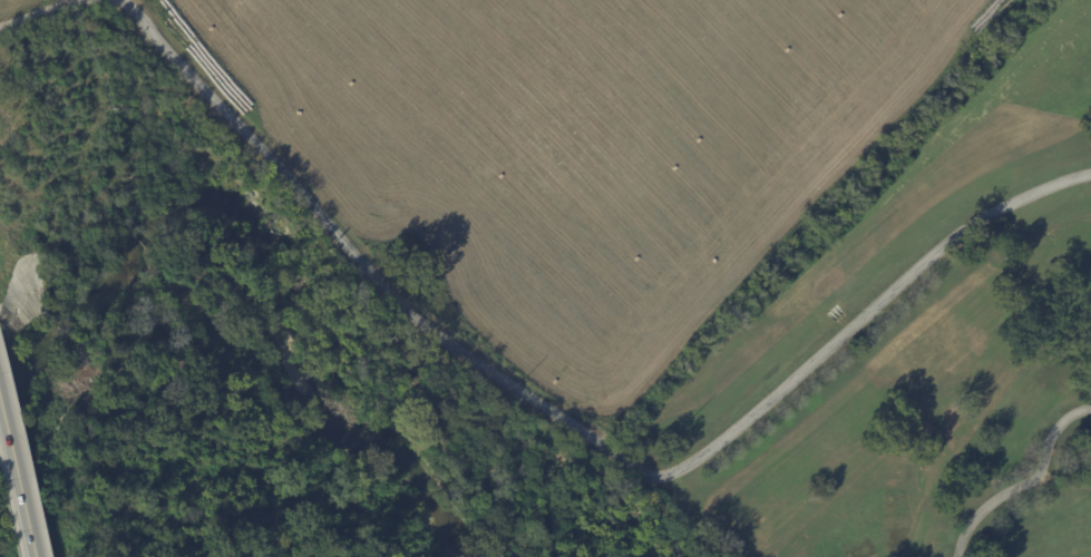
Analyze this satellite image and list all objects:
road: (32, 11)
river: (247, 251)
road: (578, 426)
road: (17, 481)
road: (1027, 483)

